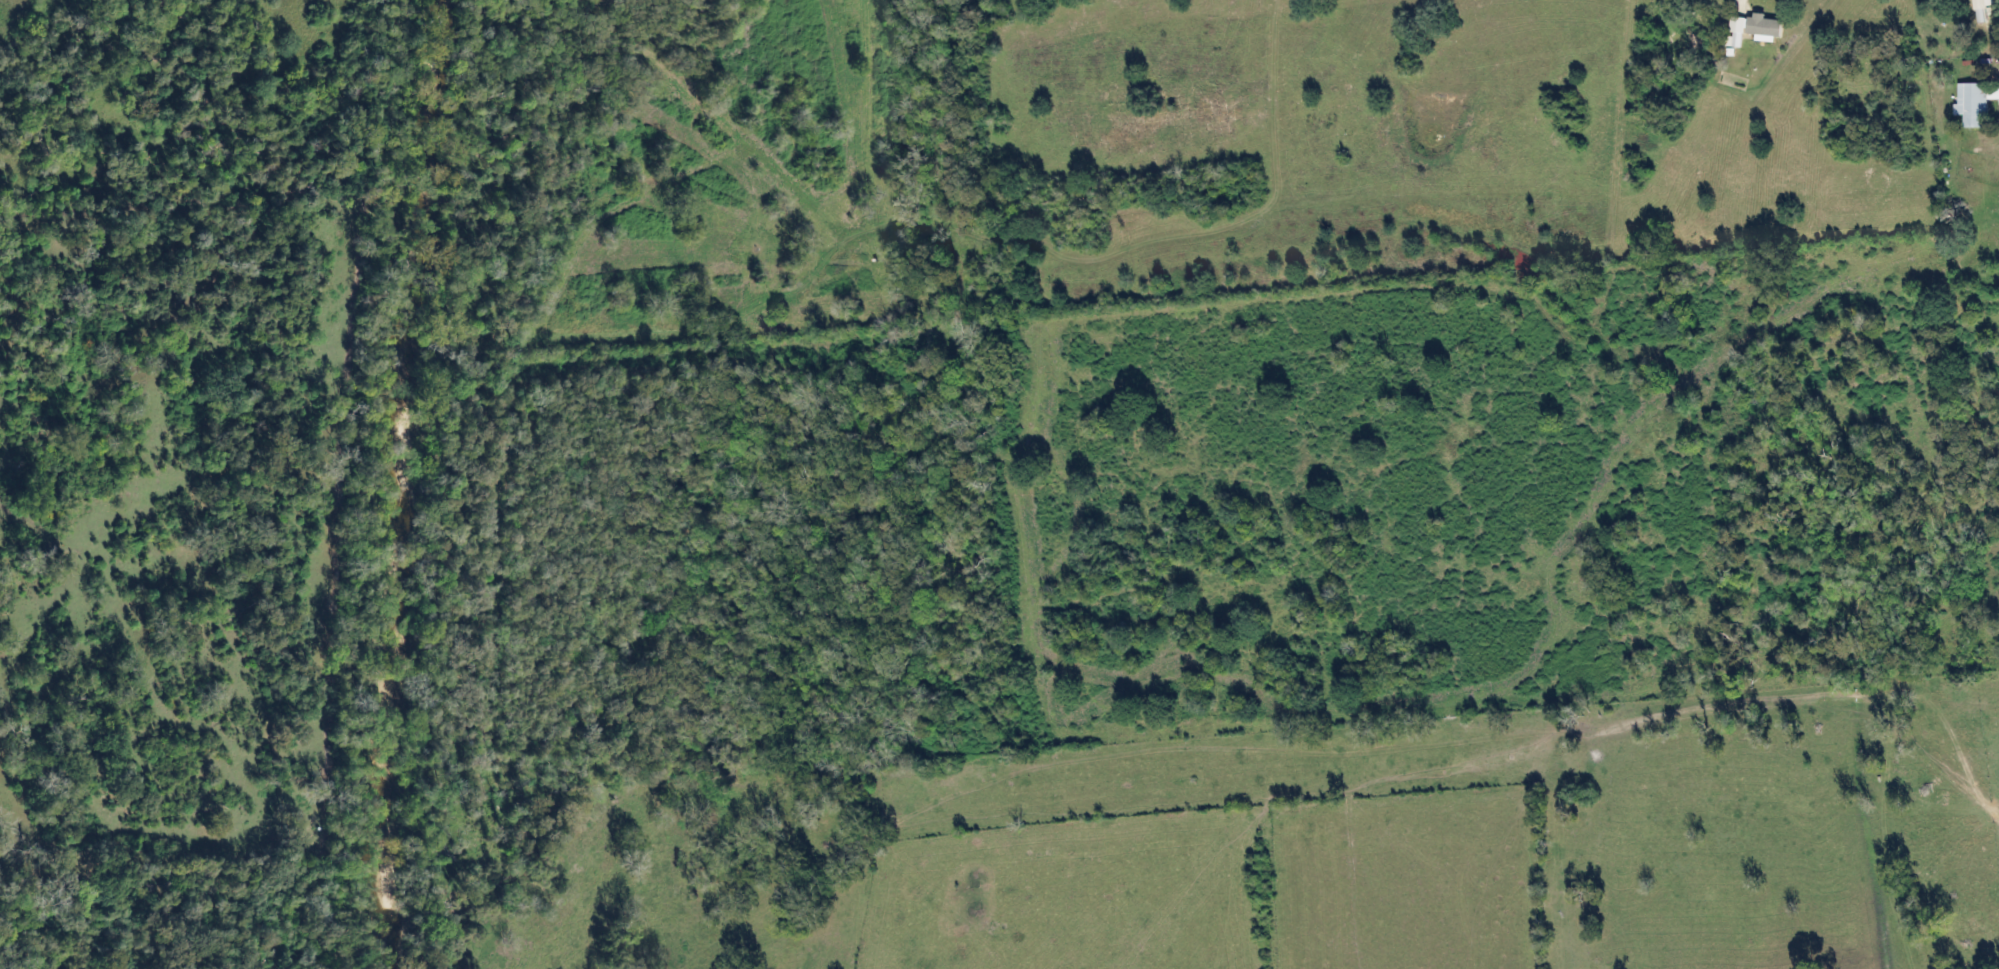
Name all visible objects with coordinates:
building: (1975, 11)
building: (1971, 102)

